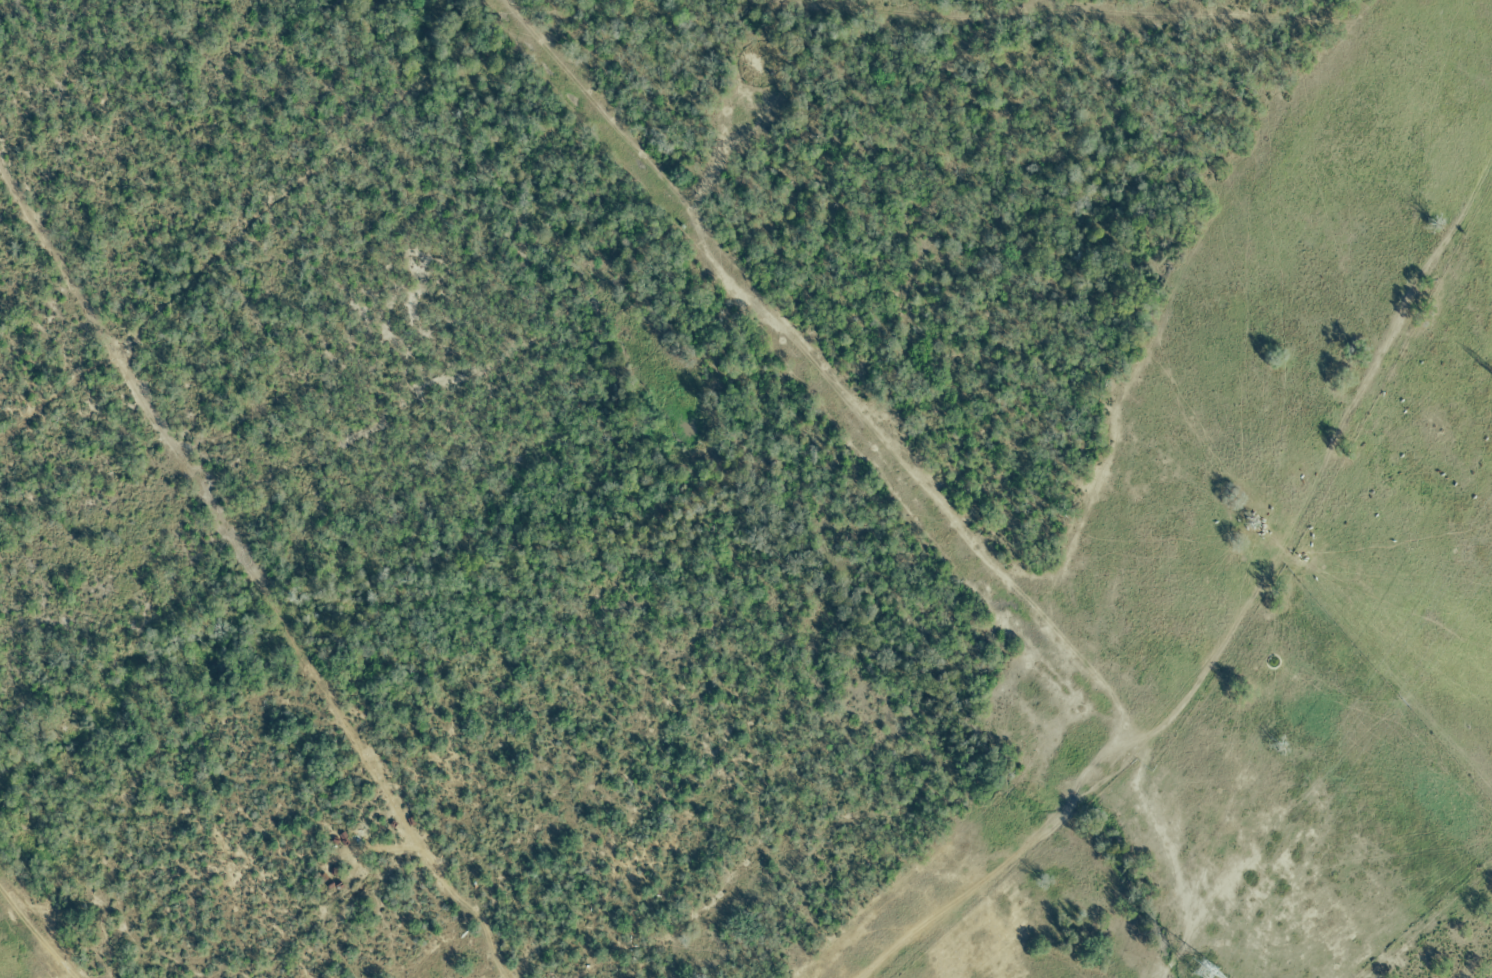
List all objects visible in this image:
power tower: (1203, 968)

